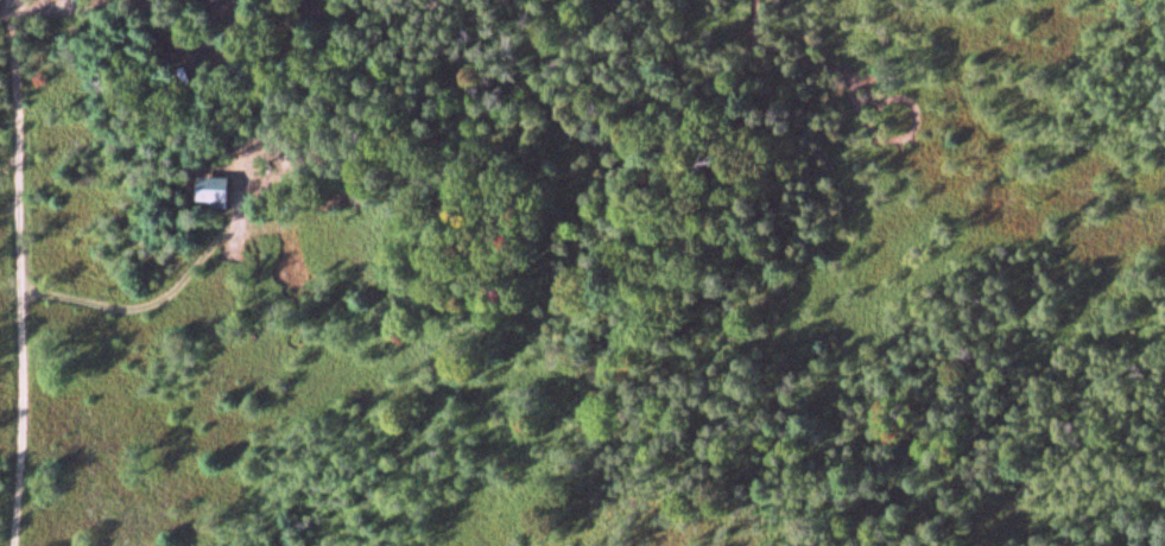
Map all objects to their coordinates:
road: (18, 131)
building: (286, 160)
road: (23, 404)

